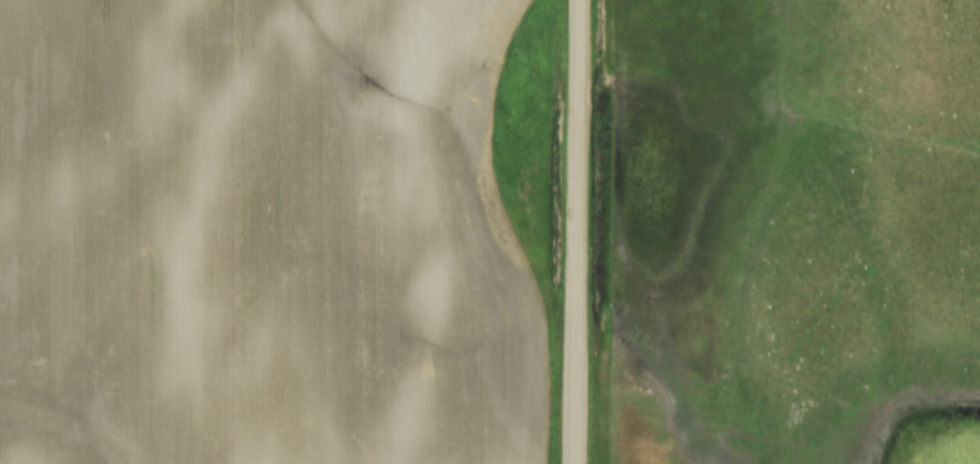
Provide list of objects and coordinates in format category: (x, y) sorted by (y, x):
road: (577, 232)

